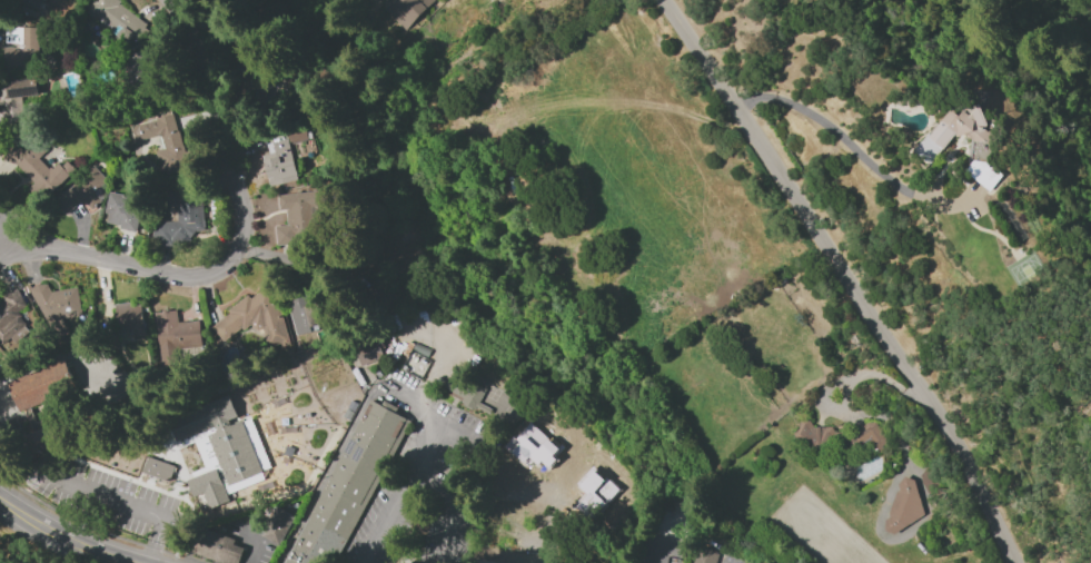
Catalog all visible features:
building: (29, 1)
building: (405, 10)
building: (116, 19)
road: (1063, 28)
building: (21, 48)
building: (140, 79)
building: (14, 96)
road: (215, 119)
building: (933, 140)
building: (161, 141)
road: (852, 147)
building: (37, 168)
building: (81, 190)
building: (121, 210)
building: (179, 217)
building: (296, 217)
road: (122, 261)
road: (847, 276)
building: (56, 308)
building: (306, 310)
building: (11, 317)
building: (129, 317)
building: (254, 318)
building: (173, 336)
building: (368, 349)
building: (472, 395)
road: (411, 403)
building: (24, 411)
road: (442, 419)
building: (836, 436)
building: (219, 451)
building: (157, 468)
building: (347, 483)
road: (101, 493)
building: (903, 506)
building: (277, 525)
road: (67, 535)
building: (216, 546)
building: (703, 555)

